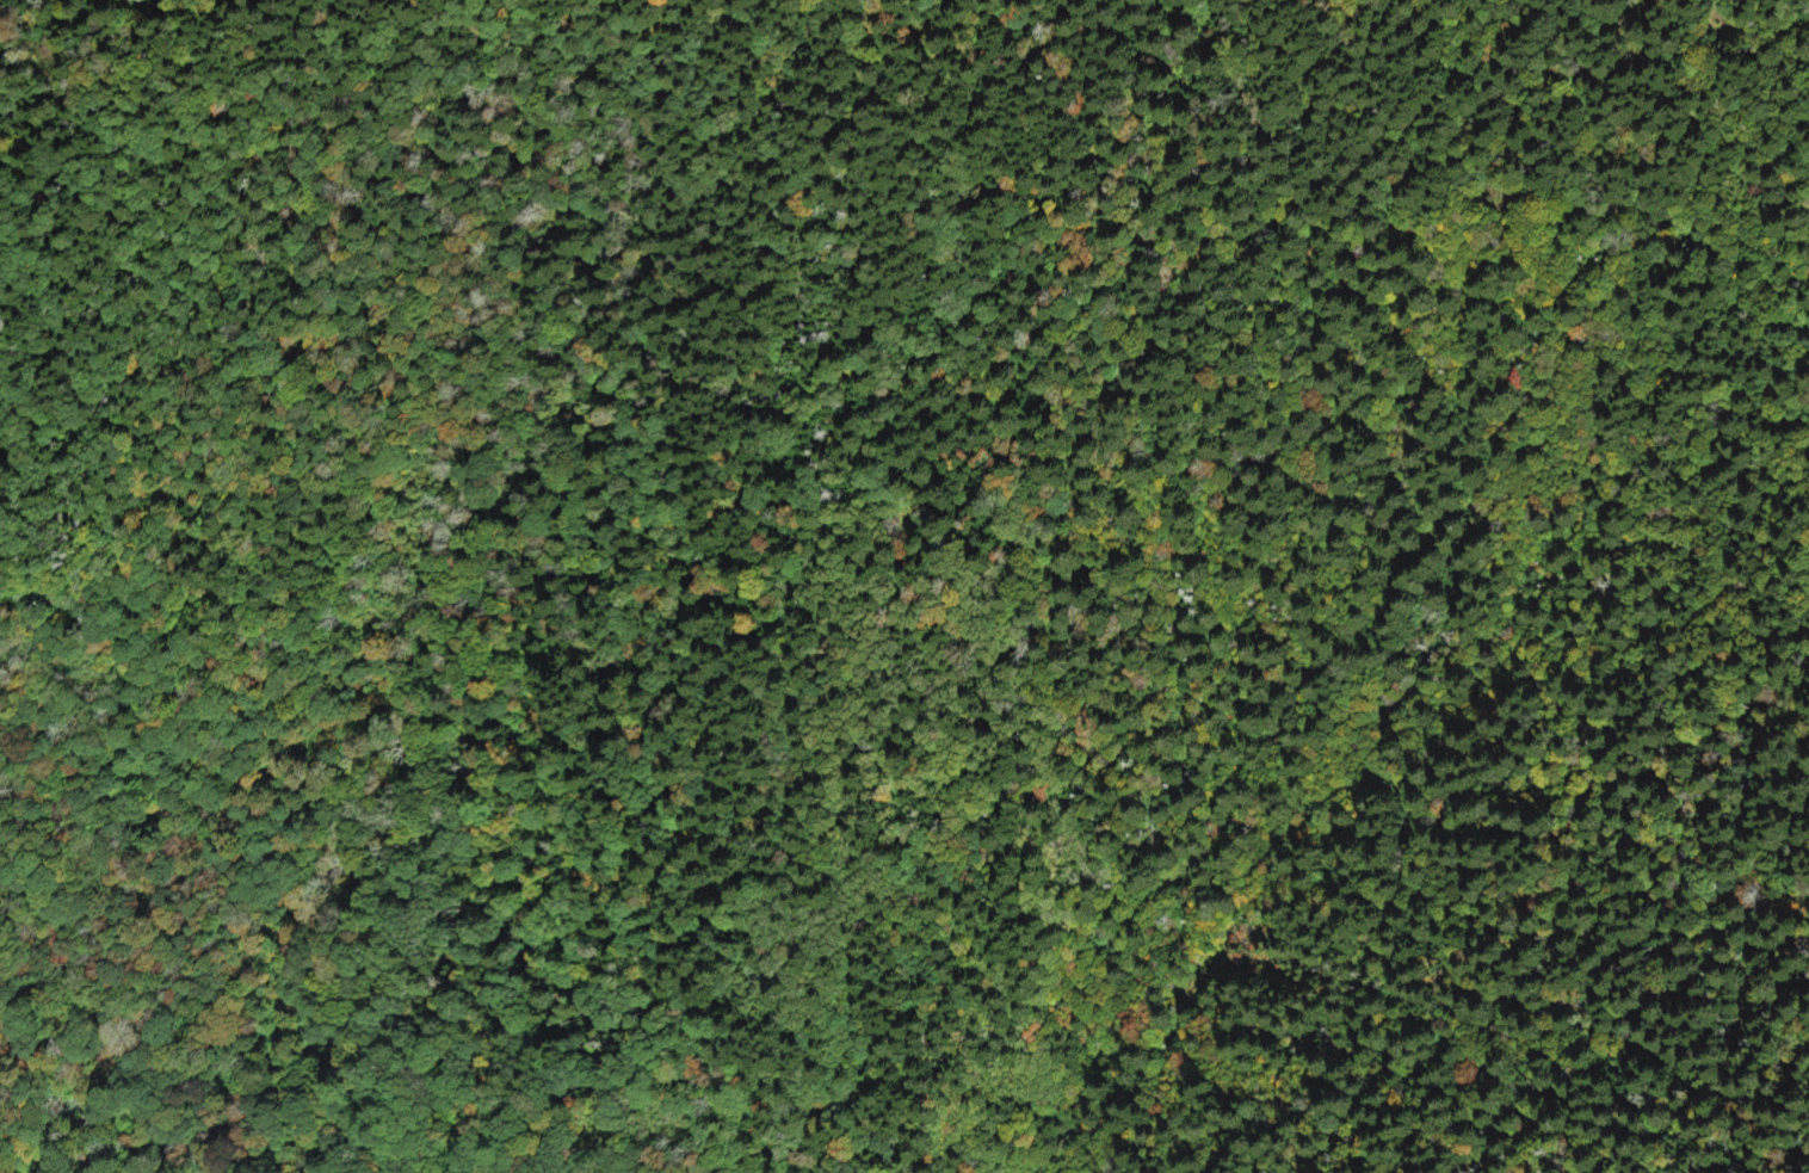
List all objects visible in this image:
road: (662, 980)

